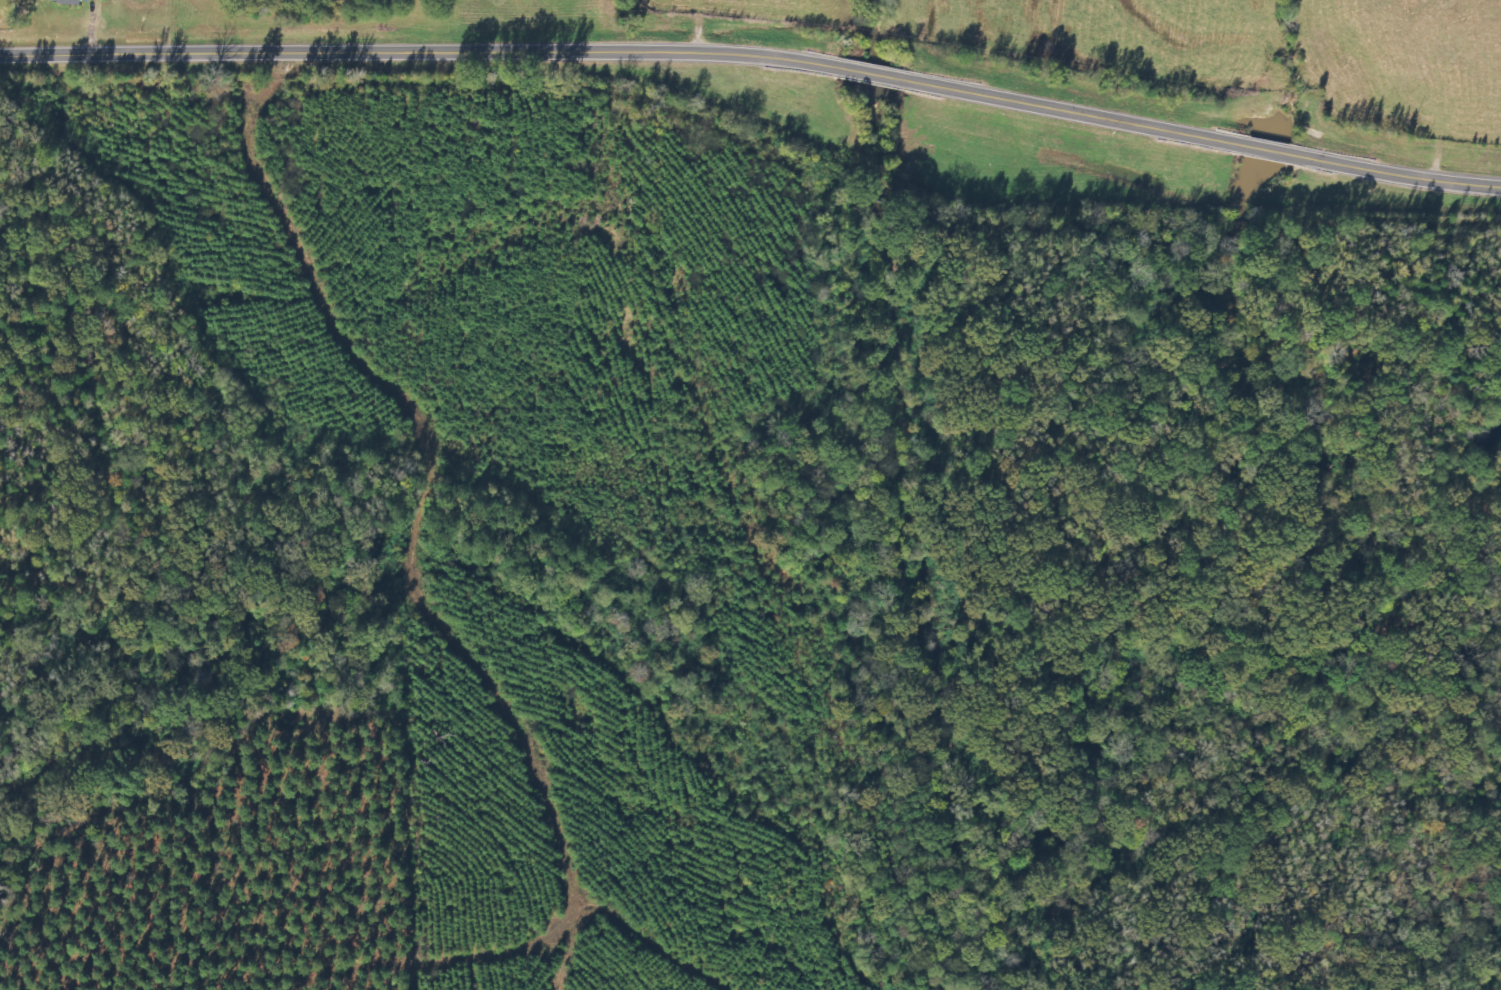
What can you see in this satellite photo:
building: (62, 2)
road: (756, 57)

